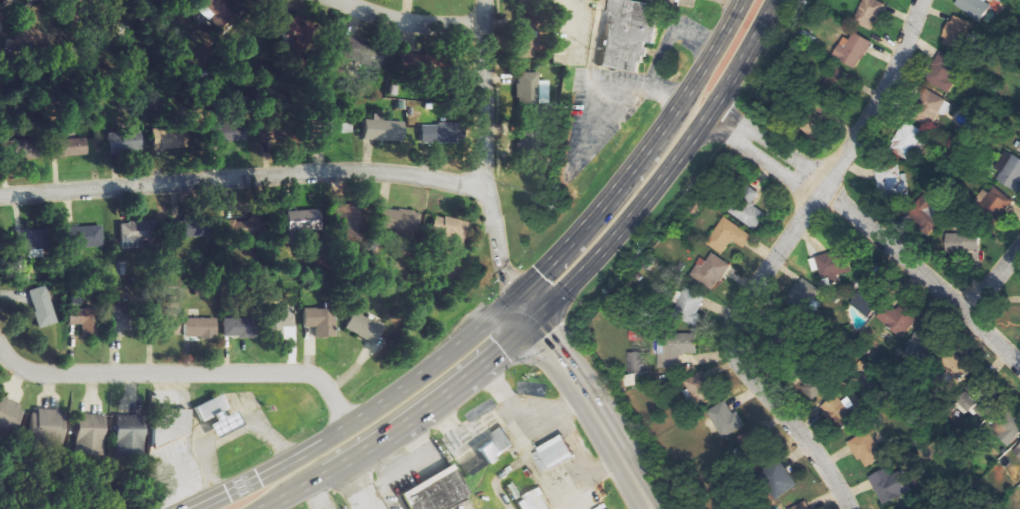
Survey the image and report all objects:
building: (660, 0)
building: (975, 8)
building: (219, 10)
building: (871, 13)
road: (411, 18)
building: (957, 33)
building: (629, 34)
building: (523, 37)
building: (360, 50)
building: (852, 50)
building: (944, 72)
road: (591, 87)
building: (527, 92)
building: (931, 106)
building: (329, 124)
building: (435, 132)
building: (167, 138)
building: (527, 140)
building: (907, 140)
building: (127, 141)
building: (67, 147)
building: (1019, 148)
building: (19, 149)
road: (486, 150)
road: (640, 156)
road: (667, 170)
building: (1010, 170)
road: (244, 177)
building: (892, 178)
building: (994, 202)
building: (748, 207)
building: (925, 213)
building: (295, 220)
building: (347, 220)
building: (399, 220)
building: (196, 226)
building: (237, 227)
building: (445, 229)
road: (871, 230)
building: (131, 234)
building: (84, 235)
building: (729, 236)
building: (28, 238)
building: (963, 242)
road: (770, 259)
building: (829, 266)
building: (711, 271)
road: (993, 279)
building: (804, 291)
traffic signals: (515, 295)
building: (865, 301)
building: (689, 304)
building: (43, 306)
road: (524, 308)
building: (168, 318)
building: (86, 319)
building: (277, 319)
building: (116, 320)
building: (320, 320)
building: (898, 320)
traffic signals: (533, 321)
building: (200, 326)
building: (363, 326)
building: (239, 327)
building: (675, 348)
building: (954, 362)
building: (636, 368)
road: (183, 373)
building: (701, 387)
building: (967, 400)
building: (828, 401)
road: (596, 411)
building: (9, 414)
building: (216, 415)
road: (362, 415)
building: (726, 418)
building: (168, 423)
road: (403, 423)
building: (49, 426)
building: (91, 433)
building: (130, 434)
building: (492, 446)
building: (866, 448)
building: (1017, 451)
building: (549, 454)
building: (778, 478)
road: (356, 485)
building: (889, 485)
building: (431, 490)
road: (316, 496)
building: (529, 501)
building: (802, 506)
road: (266, 508)

